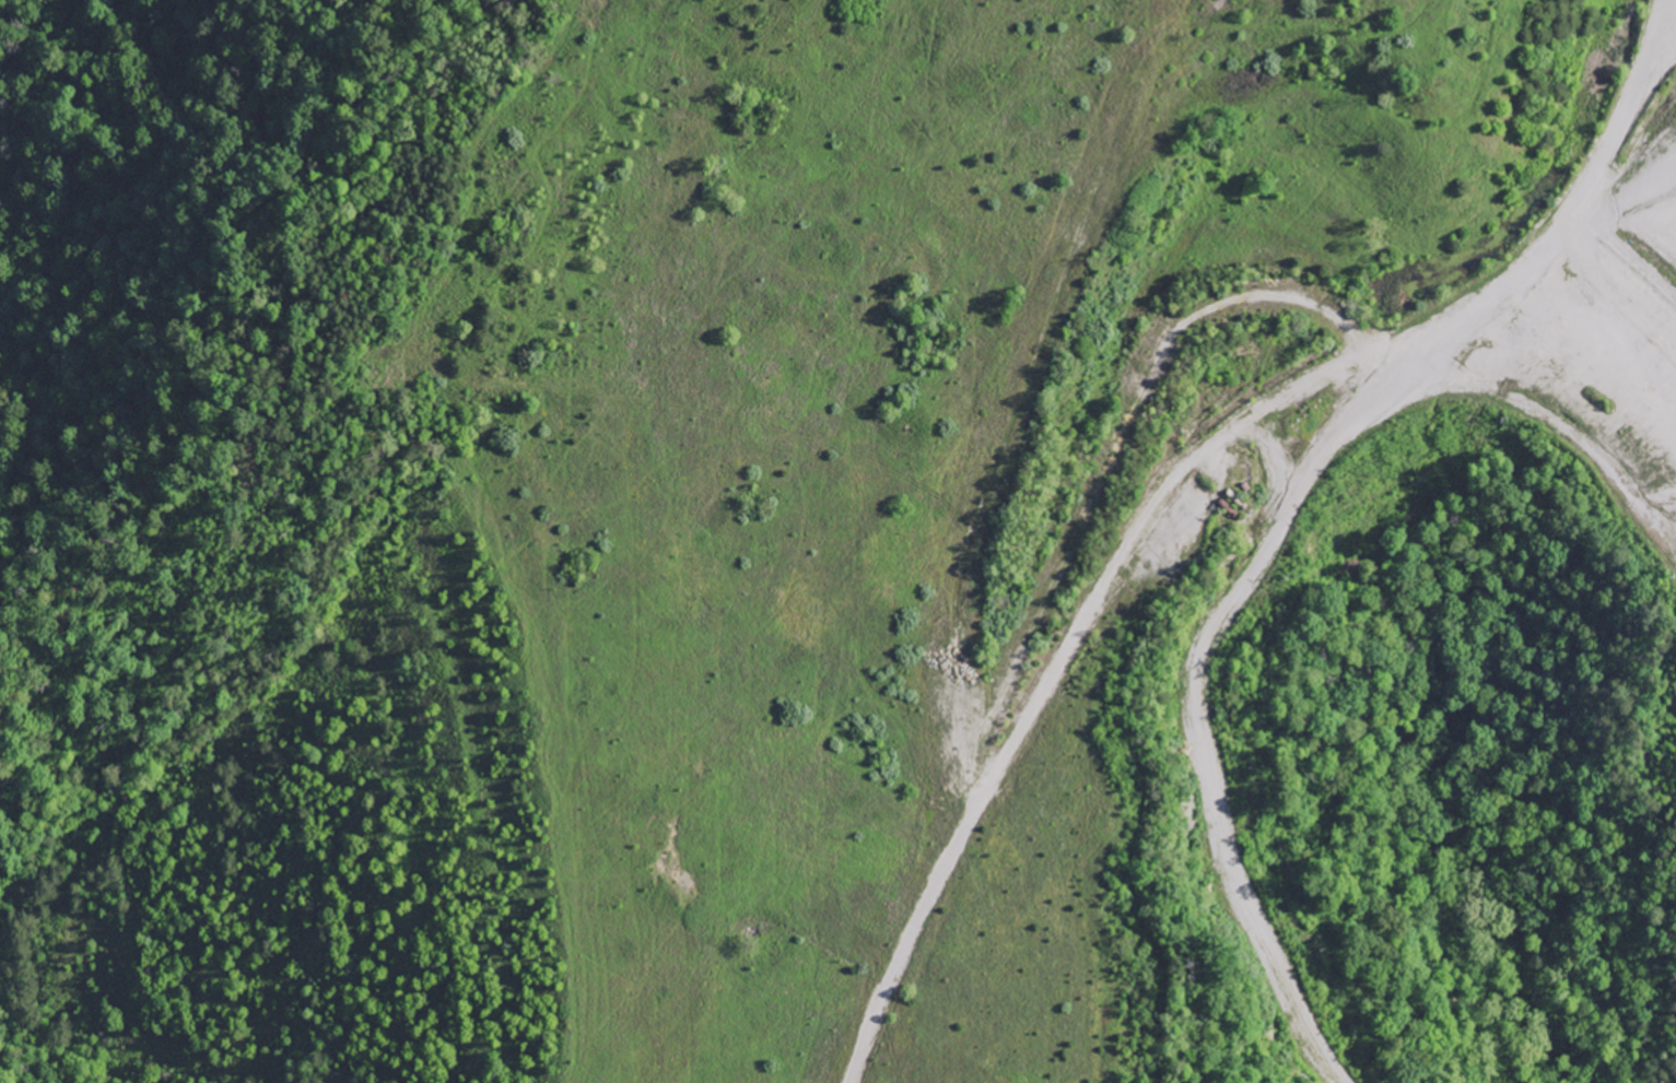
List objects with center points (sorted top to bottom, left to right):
road: (1288, 507)

